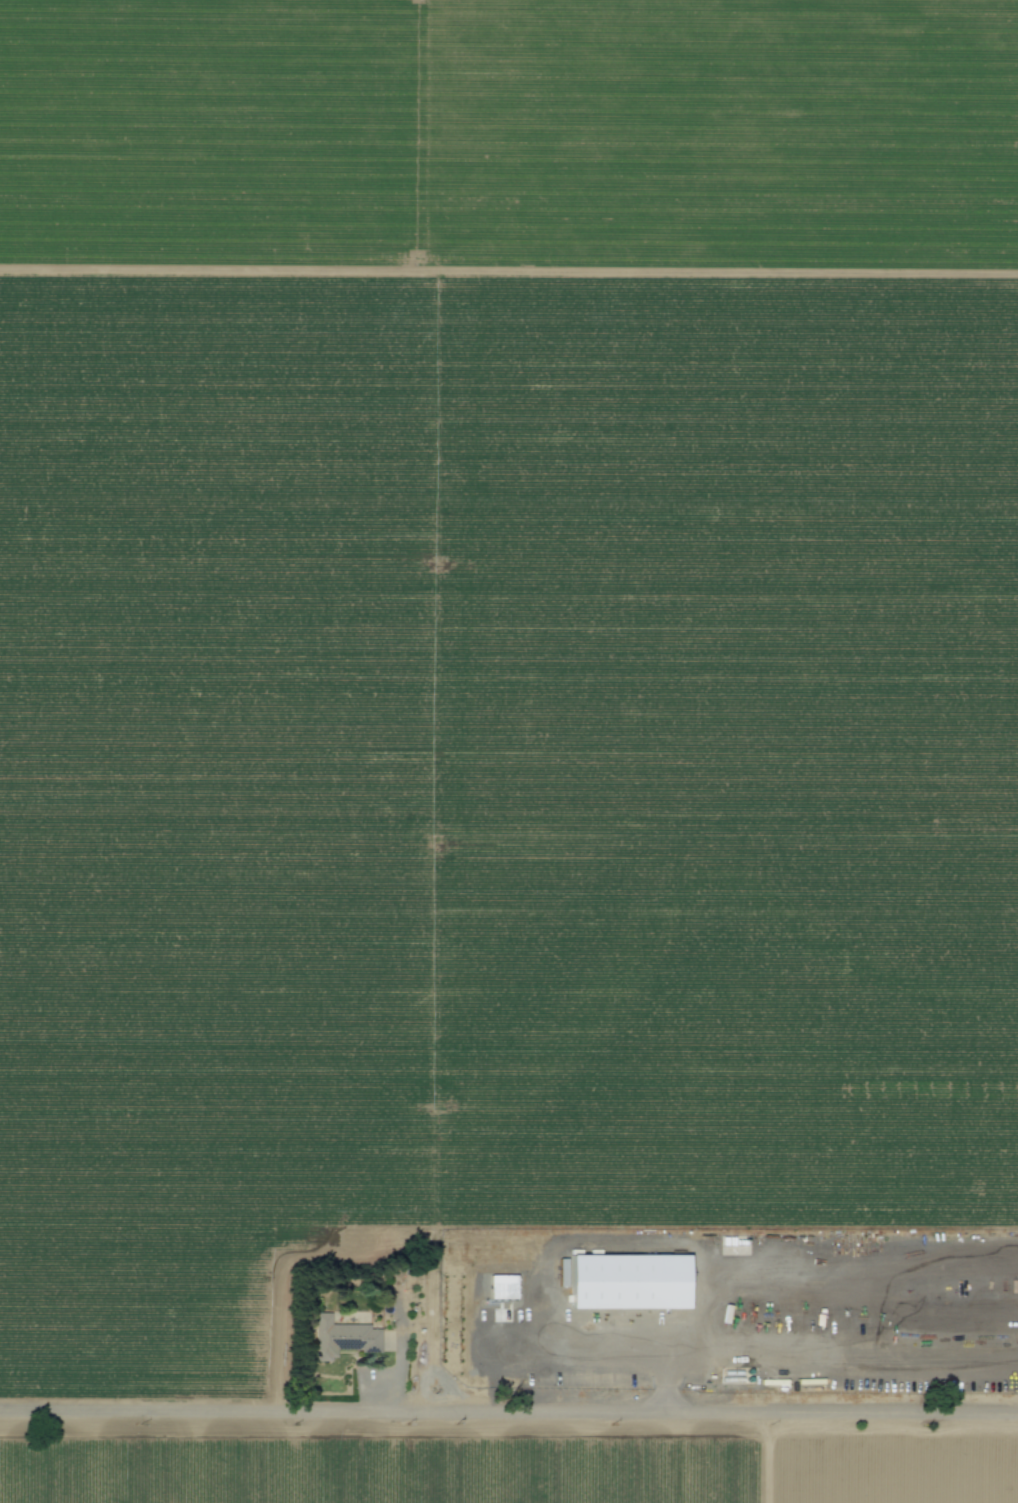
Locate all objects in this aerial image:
building: (342, 1338)
road: (644, 1354)
road: (508, 1414)
road: (764, 1458)

